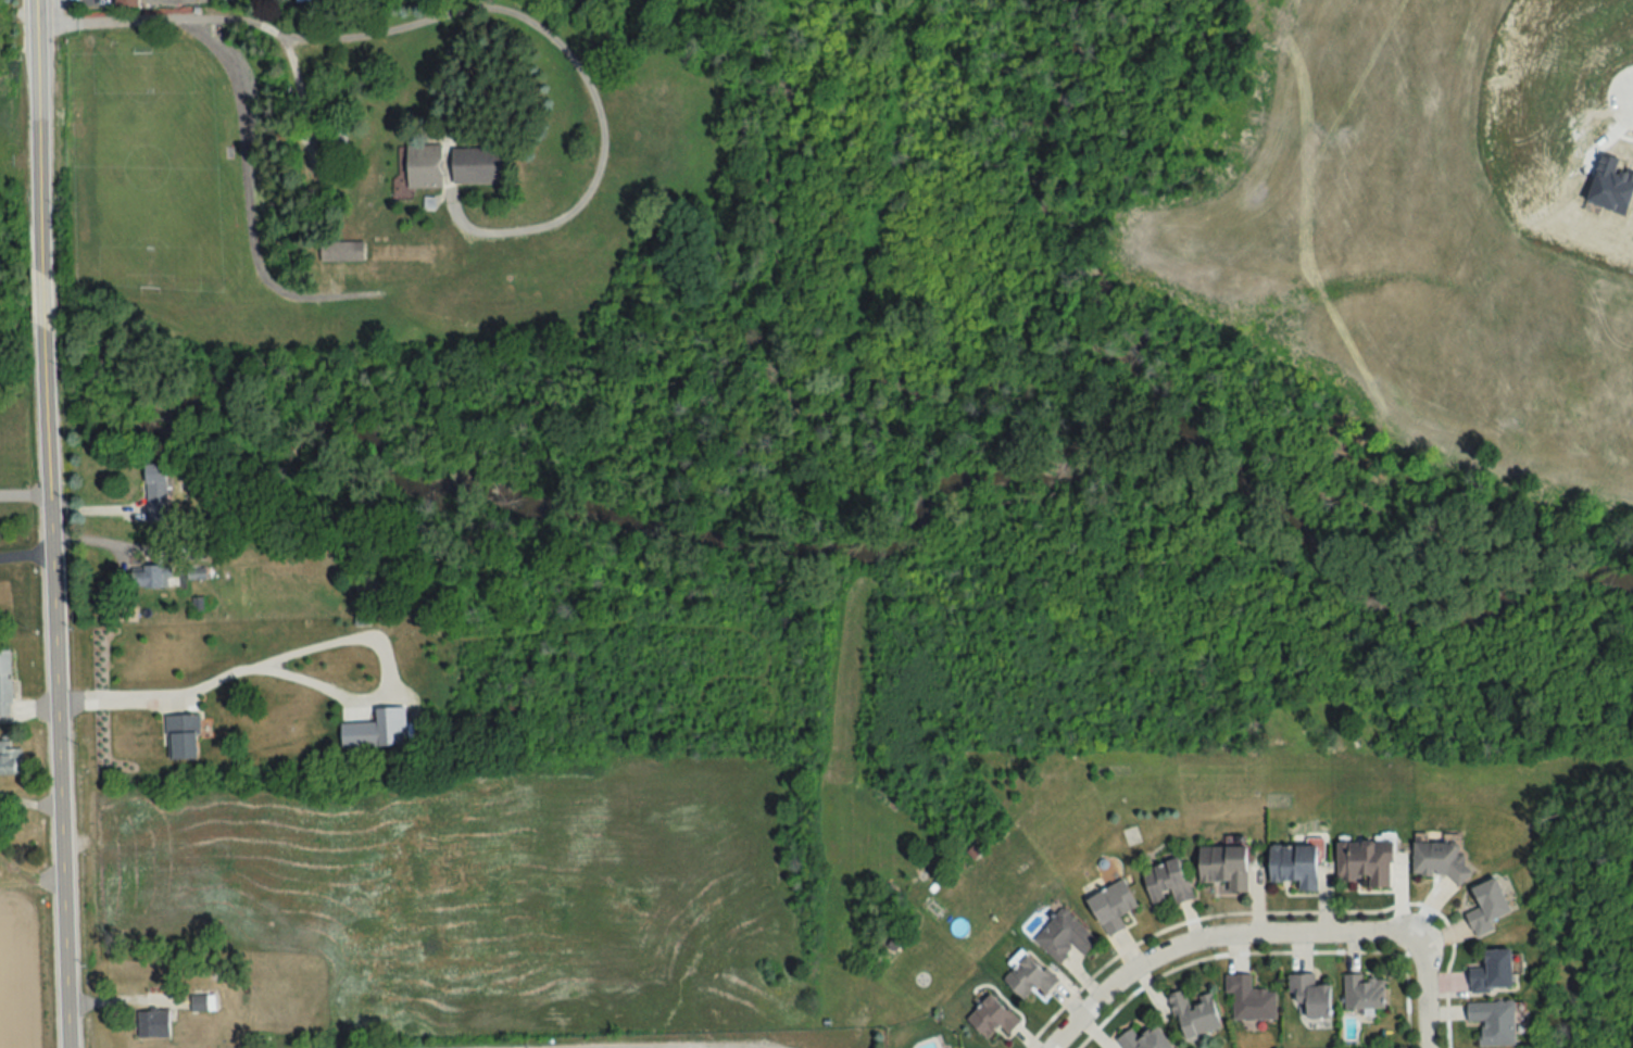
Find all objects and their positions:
building: (125, 0)
road: (436, 17)
building: (454, 165)
road: (246, 171)
building: (341, 252)
building: (155, 493)
road: (24, 495)
road: (51, 523)
road: (26, 552)
building: (196, 574)
building: (151, 578)
building: (4, 682)
road: (197, 692)
building: (181, 735)
building: (10, 758)
building: (1440, 856)
building: (1366, 861)
building: (1295, 864)
building: (1224, 867)
building: (1167, 882)
building: (1113, 905)
building: (1488, 906)
building: (1064, 935)
road: (1213, 937)
building: (1494, 972)
building: (1028, 976)
crop: (20, 980)
building: (1365, 990)
road: (1424, 993)
building: (1311, 995)
building: (1249, 999)
building: (198, 1002)
building: (1194, 1013)
building: (992, 1018)
building: (1494, 1022)
building: (153, 1023)
building: (1145, 1039)

